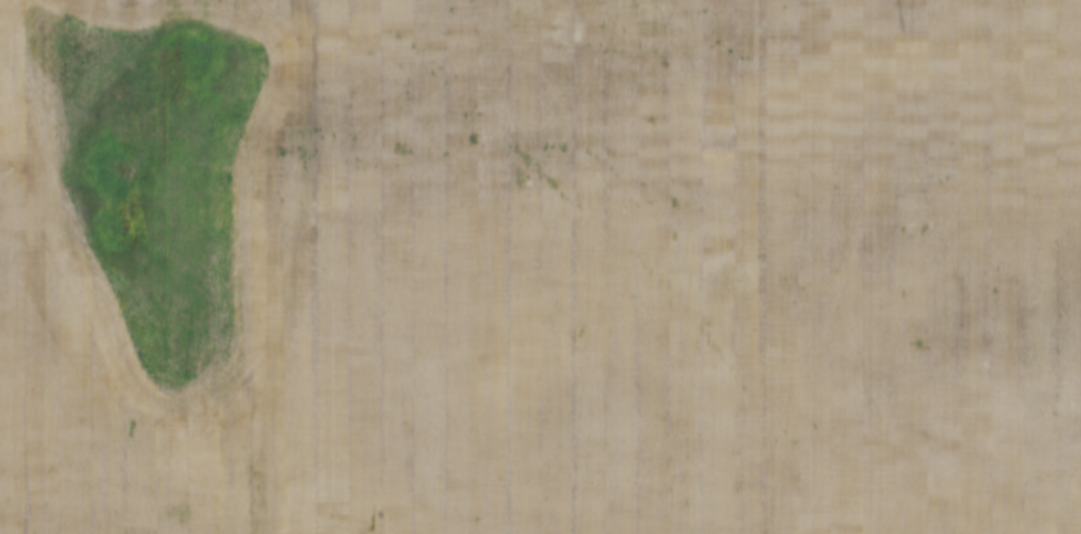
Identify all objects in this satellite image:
road: (218, 258)

